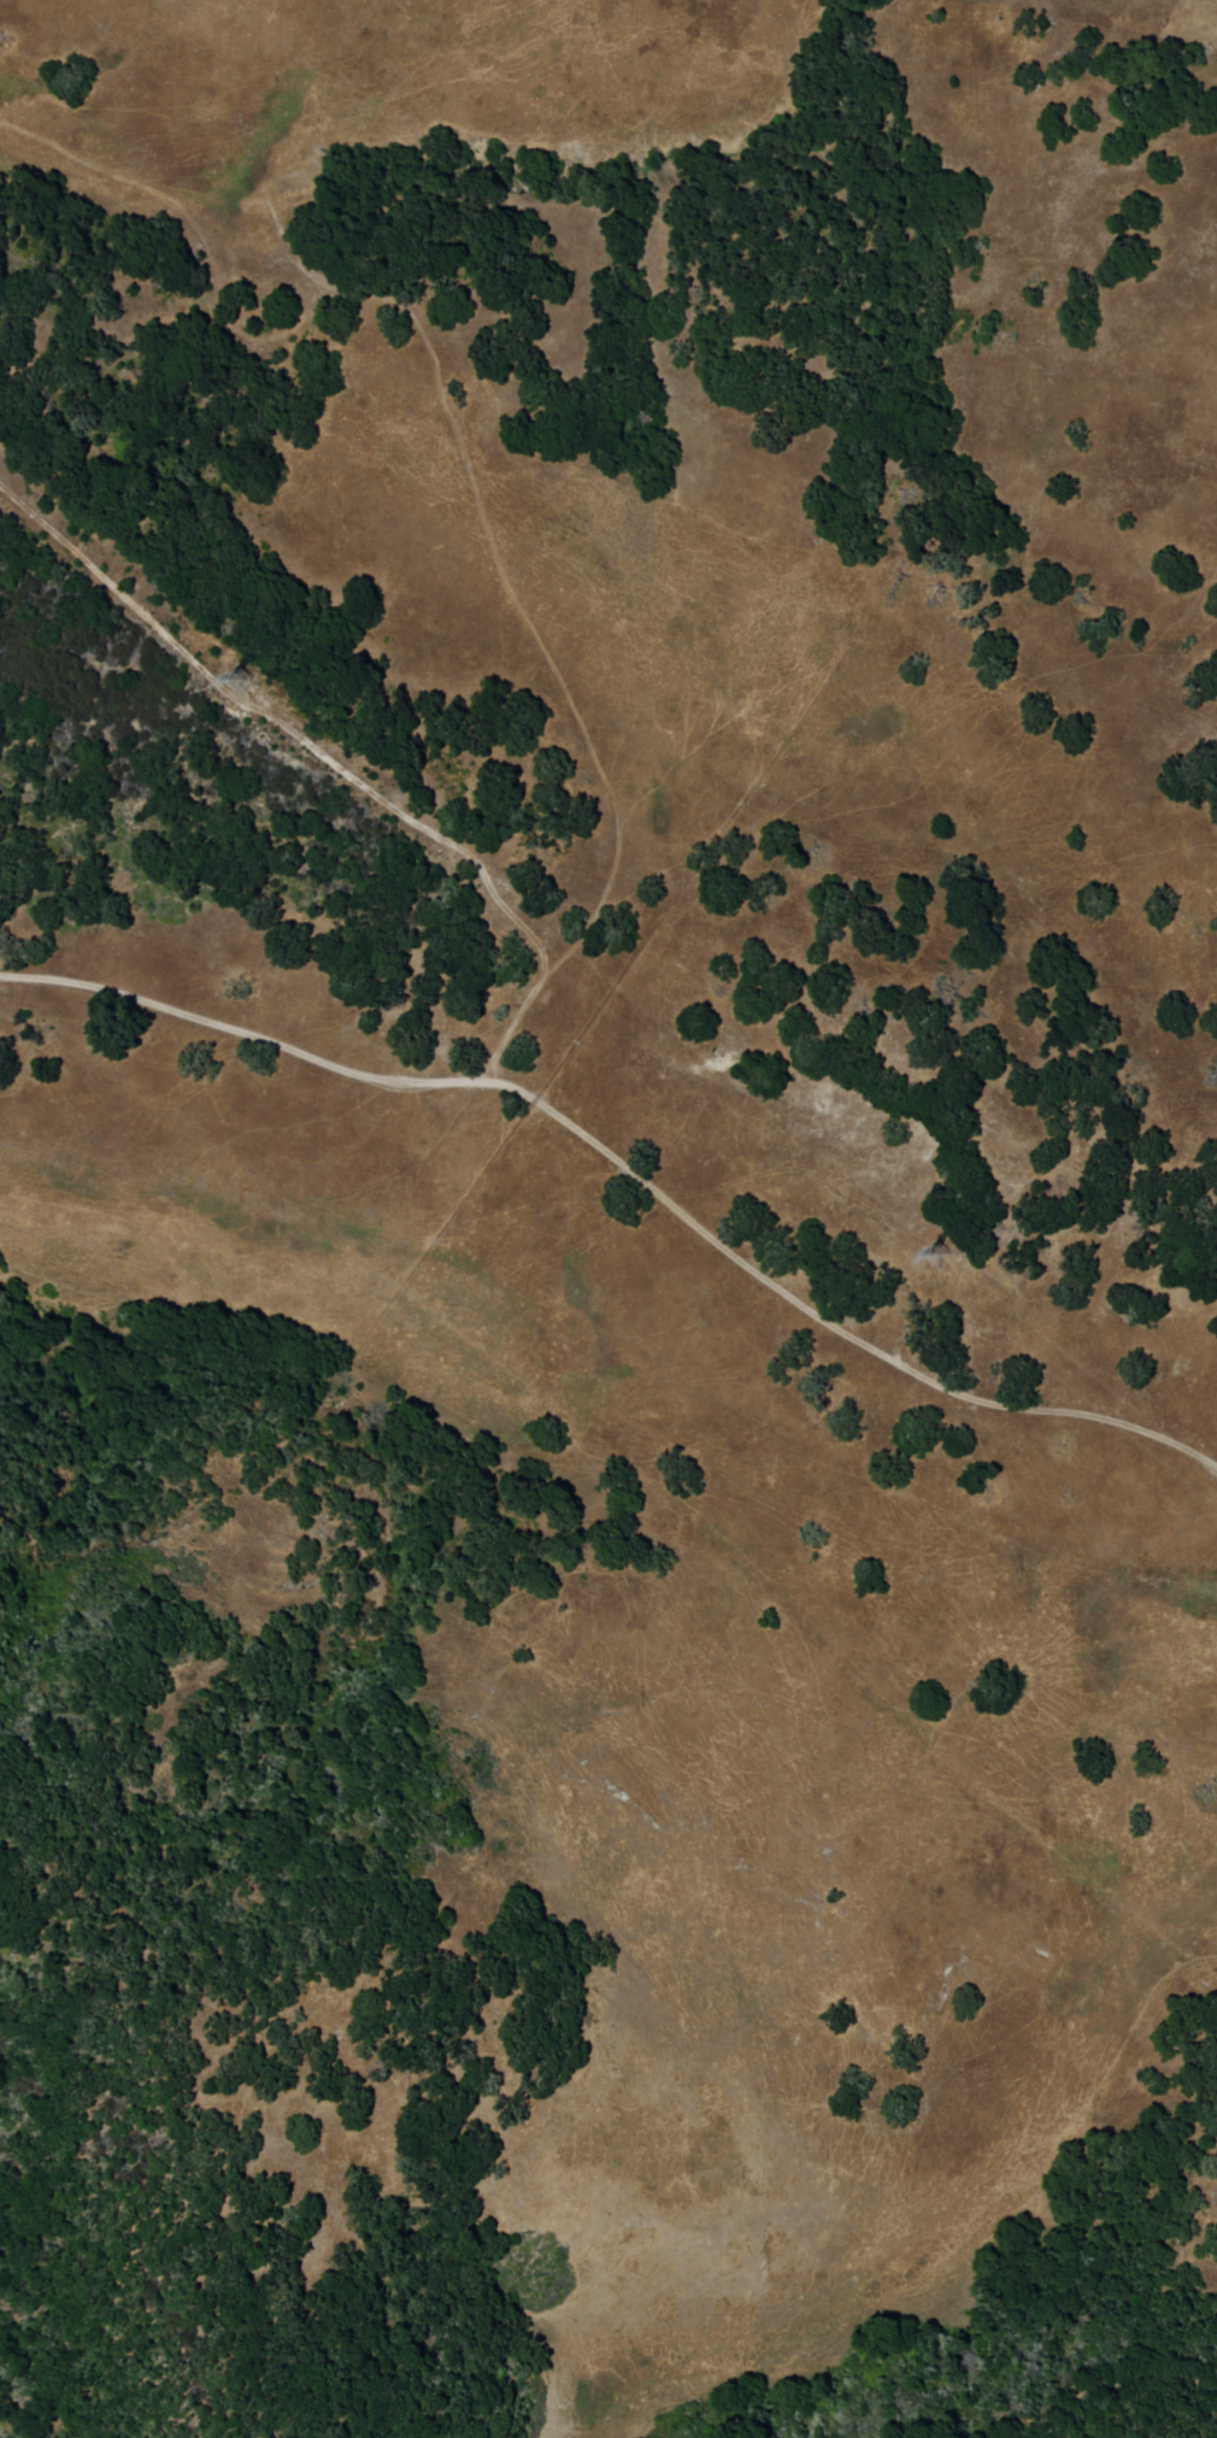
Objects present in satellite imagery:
power tower: (229, 680)
road: (628, 1170)
power tower: (936, 1255)
road: (1109, 2385)

